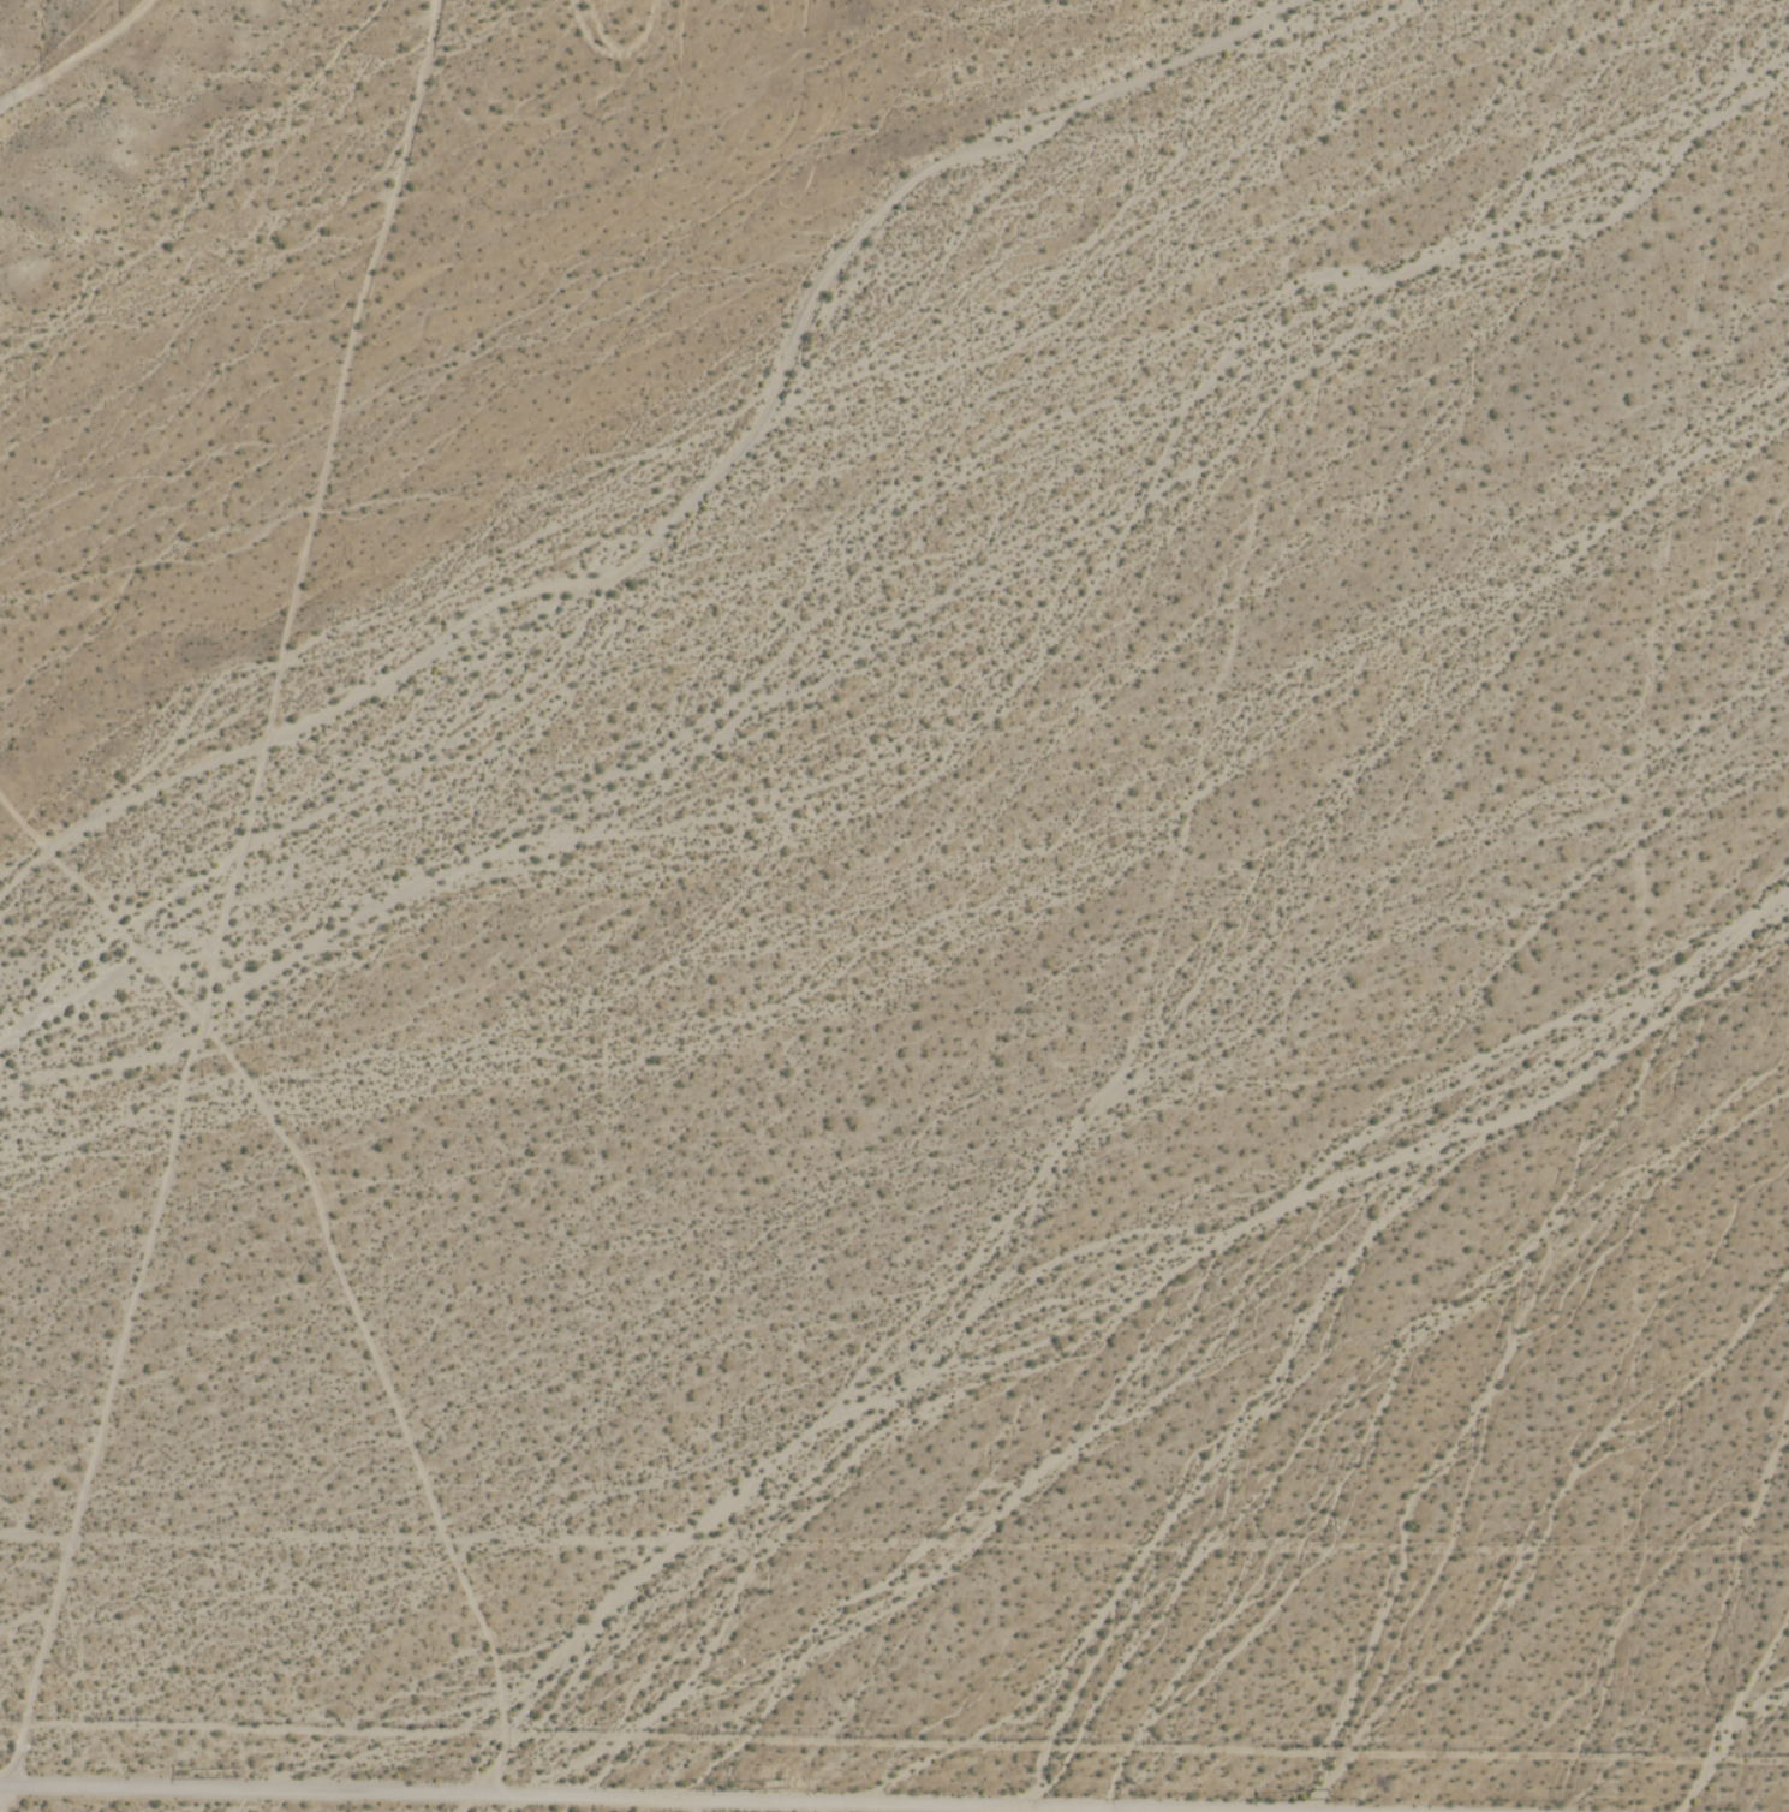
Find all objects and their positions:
power tower: (234, 1771)
power tower: (786, 1786)
power tower: (1325, 1795)

